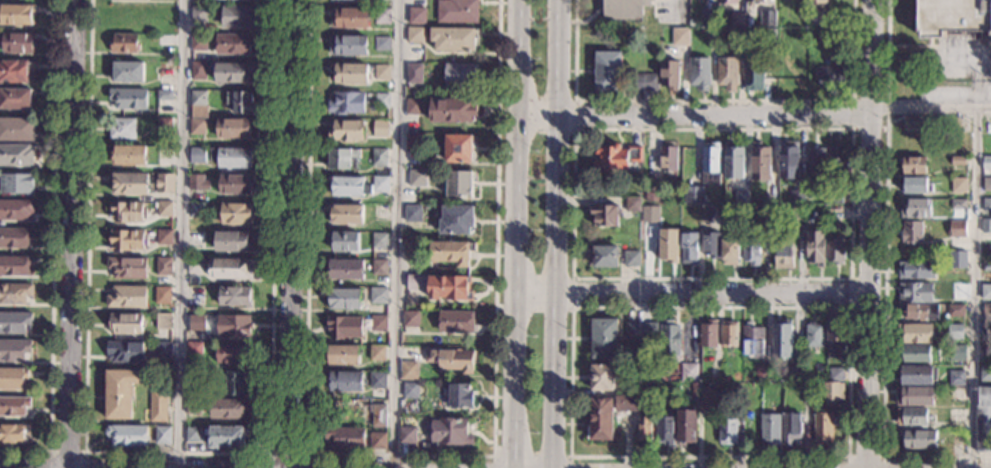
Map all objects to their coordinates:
building: (728, 1)
building: (754, 1)
building: (817, 1)
building: (623, 8)
road: (654, 8)
road: (680, 8)
building: (802, 9)
building: (457, 11)
building: (199, 14)
building: (16, 15)
building: (238, 16)
building: (382, 16)
building: (417, 16)
road: (590, 16)
building: (952, 17)
building: (350, 18)
building: (708, 18)
building: (767, 19)
building: (816, 19)
building: (737, 20)
building: (415, 35)
building: (712, 35)
building: (768, 35)
building: (825, 35)
building: (735, 36)
building: (680, 37)
building: (165, 38)
building: (453, 39)
building: (793, 39)
building: (199, 42)
building: (17, 43)
building: (123, 43)
building: (234, 44)
building: (382, 44)
building: (348, 45)
building: (15, 70)
building: (164, 70)
building: (198, 70)
building: (382, 71)
building: (127, 72)
building: (232, 72)
building: (608, 72)
building: (754, 72)
building: (349, 73)
building: (699, 73)
building: (727, 73)
building: (414, 74)
building: (461, 74)
building: (781, 74)
building: (669, 75)
building: (829, 75)
building: (643, 82)
building: (164, 95)
building: (198, 98)
building: (14, 99)
building: (128, 99)
building: (240, 101)
building: (382, 101)
road: (713, 101)
building: (347, 103)
road: (931, 105)
building: (413, 106)
building: (452, 110)
road: (697, 118)
building: (164, 122)
building: (912, 123)
building: (197, 126)
building: (121, 128)
building: (16, 129)
building: (233, 129)
building: (380, 129)
road: (549, 129)
road: (855, 129)
building: (347, 130)
building: (413, 143)
building: (987, 146)
building: (457, 148)
building: (16, 154)
building: (127, 155)
building: (197, 155)
building: (232, 157)
building: (616, 157)
building: (343, 158)
building: (379, 158)
building: (668, 159)
building: (815, 159)
building: (788, 160)
building: (837, 160)
building: (733, 161)
building: (760, 161)
building: (958, 161)
building: (986, 163)
building: (710, 164)
building: (914, 165)
building: (417, 178)
building: (198, 183)
building: (458, 183)
building: (17, 184)
building: (128, 184)
building: (165, 184)
building: (235, 184)
building: (380, 184)
building: (915, 185)
building: (958, 185)
building: (987, 185)
building: (349, 186)
building: (653, 192)
building: (694, 195)
building: (741, 196)
building: (809, 196)
building: (835, 196)
building: (770, 197)
building: (797, 197)
building: (633, 204)
building: (958, 204)
building: (987, 205)
building: (915, 208)
building: (16, 209)
building: (164, 209)
building: (196, 209)
building: (125, 212)
building: (834, 212)
building: (236, 213)
building: (345, 213)
building: (412, 213)
building: (650, 213)
building: (708, 214)
building: (604, 215)
building: (767, 216)
building: (455, 219)
building: (986, 226)
building: (957, 229)
building: (911, 231)
road: (69, 233)
road: (288, 233)
road: (395, 233)
road: (557, 233)
road: (182, 234)
road: (518, 234)
road: (870, 234)
building: (15, 237)
building: (164, 237)
building: (195, 239)
building: (127, 240)
building: (379, 240)
building: (233, 241)
building: (343, 241)
building: (668, 244)
building: (711, 245)
building: (941, 245)
building: (689, 248)
building: (815, 248)
building: (412, 249)
road: (51, 250)
building: (751, 251)
building: (835, 251)
building: (451, 252)
building: (730, 252)
building: (783, 256)
building: (605, 257)
building: (631, 258)
building: (958, 259)
building: (16, 266)
building: (163, 266)
building: (195, 266)
building: (986, 266)
building: (127, 268)
building: (379, 268)
building: (229, 269)
building: (344, 269)
building: (915, 270)
road: (850, 277)
road: (884, 281)
building: (417, 282)
road: (973, 286)
building: (450, 288)
building: (915, 292)
building: (985, 292)
building: (14, 293)
building: (162, 295)
road: (693, 295)
building: (127, 296)
building: (195, 296)
building: (235, 296)
building: (378, 296)
building: (345, 299)
road: (852, 308)
building: (986, 309)
road: (548, 310)
building: (955, 310)
building: (914, 312)
building: (410, 320)
building: (163, 321)
building: (14, 322)
building: (193, 322)
building: (456, 322)
building: (126, 324)
building: (378, 324)
building: (233, 326)
building: (344, 327)
building: (641, 331)
building: (986, 331)
building: (955, 332)
building: (915, 333)
building: (708, 334)
building: (729, 334)
building: (836, 334)
building: (813, 335)
building: (670, 338)
building: (782, 338)
building: (604, 339)
building: (753, 341)
building: (193, 347)
building: (162, 349)
building: (985, 349)
building: (14, 350)
building: (125, 352)
building: (377, 353)
building: (914, 353)
building: (957, 353)
building: (232, 354)
building: (343, 355)
building: (450, 360)
building: (408, 370)
building: (689, 372)
building: (763, 372)
building: (713, 373)
building: (795, 373)
building: (985, 373)
building: (193, 374)
building: (836, 374)
building: (917, 375)
building: (602, 377)
building: (13, 378)
building: (957, 378)
building: (344, 381)
building: (377, 381)
building: (236, 384)
building: (410, 390)
building: (629, 390)
building: (696, 390)
building: (120, 392)
building: (833, 392)
building: (956, 395)
building: (461, 396)
building: (807, 396)
building: (915, 396)
building: (710, 398)
building: (640, 402)
building: (627, 404)
building: (13, 406)
building: (158, 406)
building: (192, 407)
building: (228, 408)
building: (375, 415)
building: (912, 416)
building: (955, 416)
building: (601, 419)
building: (983, 420)
building: (686, 425)
building: (824, 428)
building: (645, 429)
building: (791, 429)
building: (665, 430)
building: (770, 430)
building: (451, 432)
building: (727, 432)
building: (14, 433)
building: (162, 435)
building: (192, 435)
building: (407, 435)
building: (127, 436)
building: (227, 437)
building: (345, 438)
building: (918, 440)
building: (378, 441)
road: (66, 452)
road: (177, 453)
road: (286, 455)
road: (398, 456)
road: (530, 456)
road: (846, 456)
road: (865, 456)
road: (671, 462)

